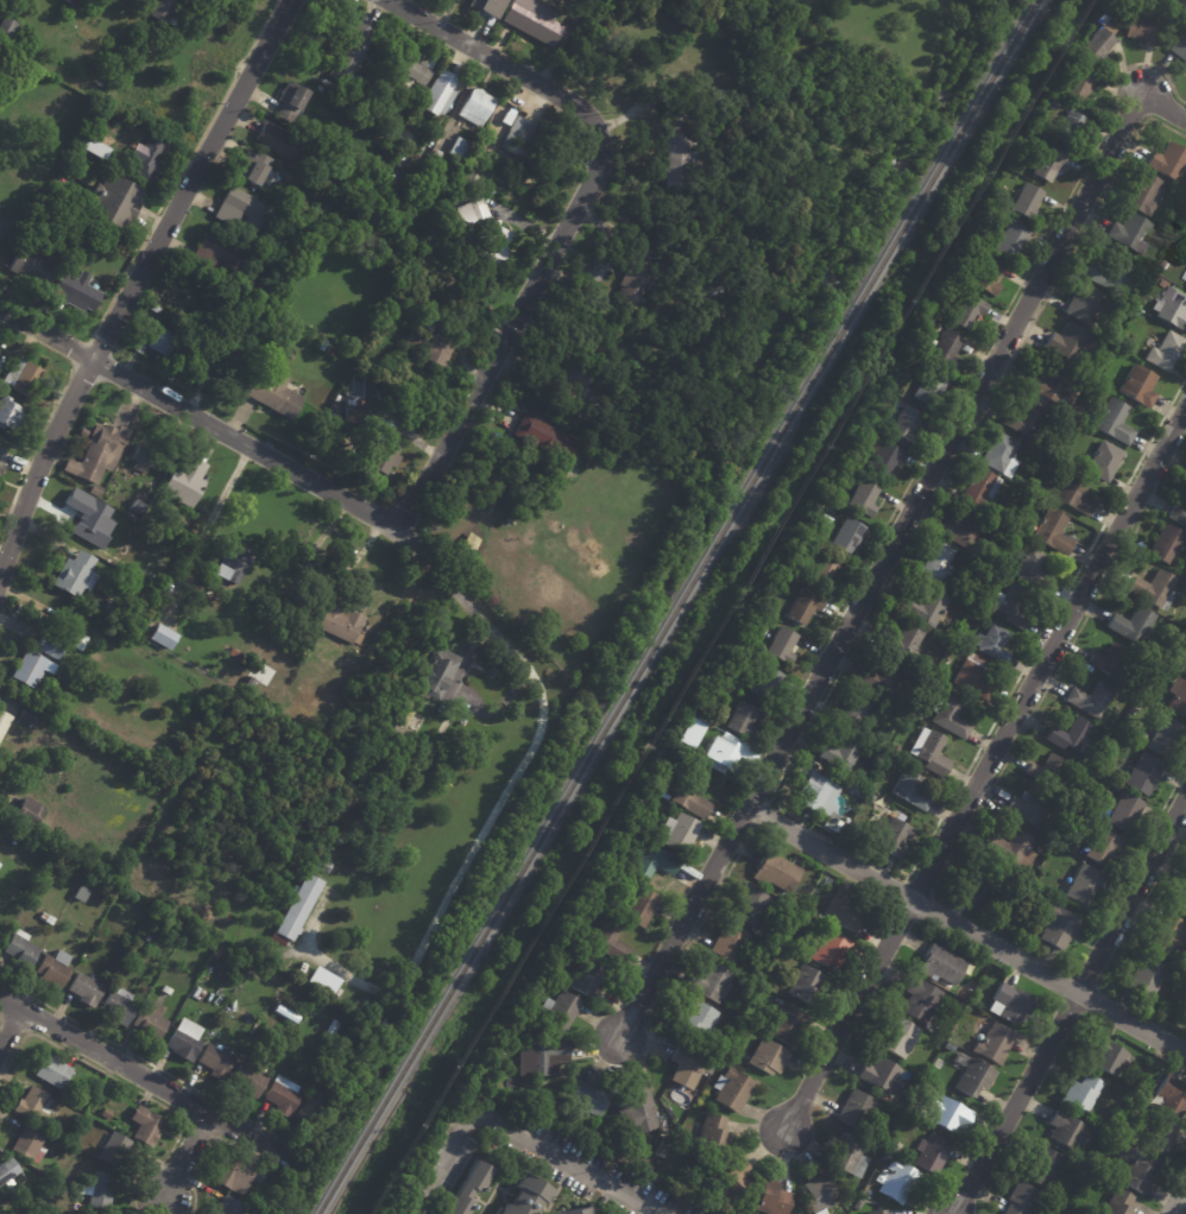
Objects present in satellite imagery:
building: (72, 2)
building: (195, 2)
building: (487, 7)
building: (165, 11)
building: (532, 23)
building: (6, 27)
building: (719, 27)
building: (1142, 29)
building: (387, 30)
building: (1098, 45)
building: (1179, 45)
building: (352, 56)
road: (500, 63)
building: (412, 70)
building: (1079, 83)
building: (439, 93)
building: (372, 94)
building: (720, 97)
building: (290, 100)
building: (696, 100)
building: (1061, 103)
building: (475, 107)
building: (506, 118)
building: (1071, 128)
building: (373, 133)
building: (516, 135)
building: (278, 141)
building: (93, 147)
building: (458, 148)
building: (681, 153)
building: (1168, 160)
building: (146, 162)
building: (1051, 163)
building: (253, 167)
building: (512, 167)
road: (182, 169)
building: (387, 179)
building: (471, 179)
building: (1144, 194)
building: (282, 195)
building: (113, 202)
building: (1028, 202)
building: (241, 209)
building: (469, 209)
building: (95, 225)
building: (1130, 233)
building: (1167, 236)
building: (1014, 238)
building: (455, 242)
building: (491, 244)
building: (216, 254)
building: (33, 266)
building: (1162, 271)
building: (1111, 276)
building: (988, 277)
building: (1185, 278)
building: (1144, 280)
road: (133, 282)
building: (718, 282)
building: (632, 285)
building: (952, 287)
building: (76, 292)
building: (1083, 302)
building: (153, 308)
building: (1173, 308)
building: (967, 311)
building: (927, 323)
road: (506, 335)
building: (229, 339)
building: (154, 341)
building: (1068, 342)
building: (1121, 343)
building: (425, 344)
building: (322, 346)
building: (946, 349)
building: (332, 352)
building: (1166, 352)
road: (78, 356)
building: (194, 359)
building: (580, 368)
building: (21, 378)
building: (1049, 382)
building: (1138, 386)
building: (929, 388)
building: (271, 393)
building: (381, 394)
building: (884, 394)
building: (339, 398)
building: (335, 407)
building: (537, 410)
building: (355, 411)
building: (8, 415)
building: (1027, 418)
building: (1114, 422)
building: (906, 424)
building: (644, 428)
building: (82, 432)
building: (547, 438)
building: (380, 451)
road: (30, 453)
building: (1001, 454)
building: (1, 455)
building: (96, 455)
building: (145, 456)
building: (883, 457)
building: (858, 459)
building: (1104, 461)
building: (354, 462)
building: (0, 464)
building: (589, 464)
road: (283, 466)
building: (183, 482)
building: (982, 489)
building: (94, 491)
building: (111, 493)
building: (1041, 493)
building: (1075, 493)
building: (864, 498)
building: (820, 505)
building: (1178, 514)
building: (88, 518)
building: (1007, 520)
building: (966, 530)
building: (1051, 531)
building: (998, 532)
building: (847, 536)
building: (1166, 544)
building: (466, 546)
road: (891, 551)
building: (791, 555)
building: (232, 564)
building: (939, 564)
building: (1033, 570)
building: (824, 573)
building: (74, 575)
building: (777, 577)
building: (964, 577)
building: (1154, 589)
building: (1184, 589)
building: (206, 595)
railway: (676, 607)
building: (803, 607)
building: (925, 607)
building: (1012, 607)
building: (111, 609)
building: (337, 622)
building: (1133, 625)
building: (108, 633)
building: (160, 637)
building: (77, 641)
building: (902, 641)
building: (993, 644)
building: (781, 645)
building: (48, 647)
building: (101, 650)
building: (234, 653)
building: (1110, 662)
building: (27, 670)
building: (435, 674)
building: (488, 674)
building: (88, 678)
building: (882, 678)
building: (921, 681)
building: (972, 681)
building: (765, 684)
building: (1178, 698)
building: (1091, 700)
building: (1137, 704)
building: (858, 713)
building: (27, 715)
building: (399, 716)
building: (950, 716)
building: (4, 721)
building: (742, 721)
building: (688, 732)
building: (1072, 738)
building: (1166, 739)
building: (721, 753)
building: (841, 753)
building: (929, 753)
building: (1048, 771)
building: (828, 772)
building: (1144, 774)
road: (984, 777)
building: (841, 780)
building: (23, 784)
building: (853, 788)
building: (910, 791)
building: (816, 795)
building: (690, 797)
building: (854, 798)
building: (348, 799)
building: (1032, 807)
building: (1125, 813)
building: (25, 814)
building: (829, 823)
building: (679, 833)
building: (1051, 835)
building: (979, 836)
building: (894, 837)
building: (636, 839)
building: (335, 840)
building: (1077, 847)
building: (1103, 848)
building: (1012, 851)
building: (650, 861)
building: (323, 866)
building: (776, 873)
building: (979, 887)
building: (1084, 887)
building: (1180, 900)
road: (442, 904)
building: (298, 906)
building: (639, 908)
building: (749, 908)
building: (808, 908)
building: (849, 909)
building: (42, 916)
building: (821, 918)
building: (788, 919)
building: (49, 921)
building: (1058, 929)
road: (965, 931)
building: (1169, 936)
building: (809, 938)
building: (608, 942)
building: (728, 943)
building: (789, 948)
building: (19, 950)
building: (829, 951)
building: (1181, 962)
building: (941, 967)
building: (51, 970)
building: (260, 978)
building: (586, 978)
building: (322, 980)
building: (1147, 980)
building: (232, 982)
building: (712, 984)
building: (807, 987)
building: (83, 989)
building: (166, 989)
building: (296, 992)
road: (6, 999)
building: (919, 1000)
road: (1070, 1005)
building: (233, 1006)
building: (1011, 1006)
building: (116, 1007)
building: (561, 1012)
building: (149, 1022)
building: (695, 1023)
road: (14, 1025)
building: (786, 1025)
road: (10, 1028)
building: (328, 1031)
building: (897, 1039)
building: (182, 1045)
building: (993, 1045)
building: (950, 1048)
building: (501, 1050)
building: (541, 1058)
building: (1109, 1058)
building: (768, 1060)
road: (151, 1063)
building: (214, 1063)
building: (687, 1068)
building: (923, 1069)
building: (52, 1073)
building: (881, 1076)
road: (144, 1077)
building: (972, 1077)
building: (248, 1080)
road: (135, 1090)
building: (733, 1090)
building: (283, 1096)
building: (1083, 1096)
building: (1115, 1096)
building: (1172, 1096)
building: (588, 1100)
building: (30, 1105)
building: (310, 1111)
building: (858, 1111)
building: (637, 1113)
building: (106, 1114)
building: (919, 1114)
building: (948, 1117)
road: (185, 1120)
building: (145, 1127)
building: (1067, 1133)
building: (713, 1136)
road: (512, 1137)
road: (213, 1139)
building: (1162, 1139)
building: (27, 1144)
building: (661, 1152)
building: (114, 1153)
road: (184, 1155)
building: (932, 1156)
building: (849, 1158)
parking lot: (421, 1165)
parking lot: (604, 1168)
building: (1041, 1169)
building: (1138, 1171)
building: (7, 1172)
parking lot: (448, 1176)
building: (233, 1177)
parking lot: (553, 1177)
building: (257, 1180)
building: (732, 1182)
building: (898, 1183)
road: (494, 1185)
building: (463, 1189)
building: (101, 1191)
building: (819, 1196)
building: (521, 1197)
building: (872, 1197)
road: (550, 1200)
building: (771, 1200)
building: (1022, 1200)
road: (477, 1202)
building: (1118, 1203)
building: (228, 1207)
road: (1181, 1207)
building: (572, 1212)
building: (882, 1213)

